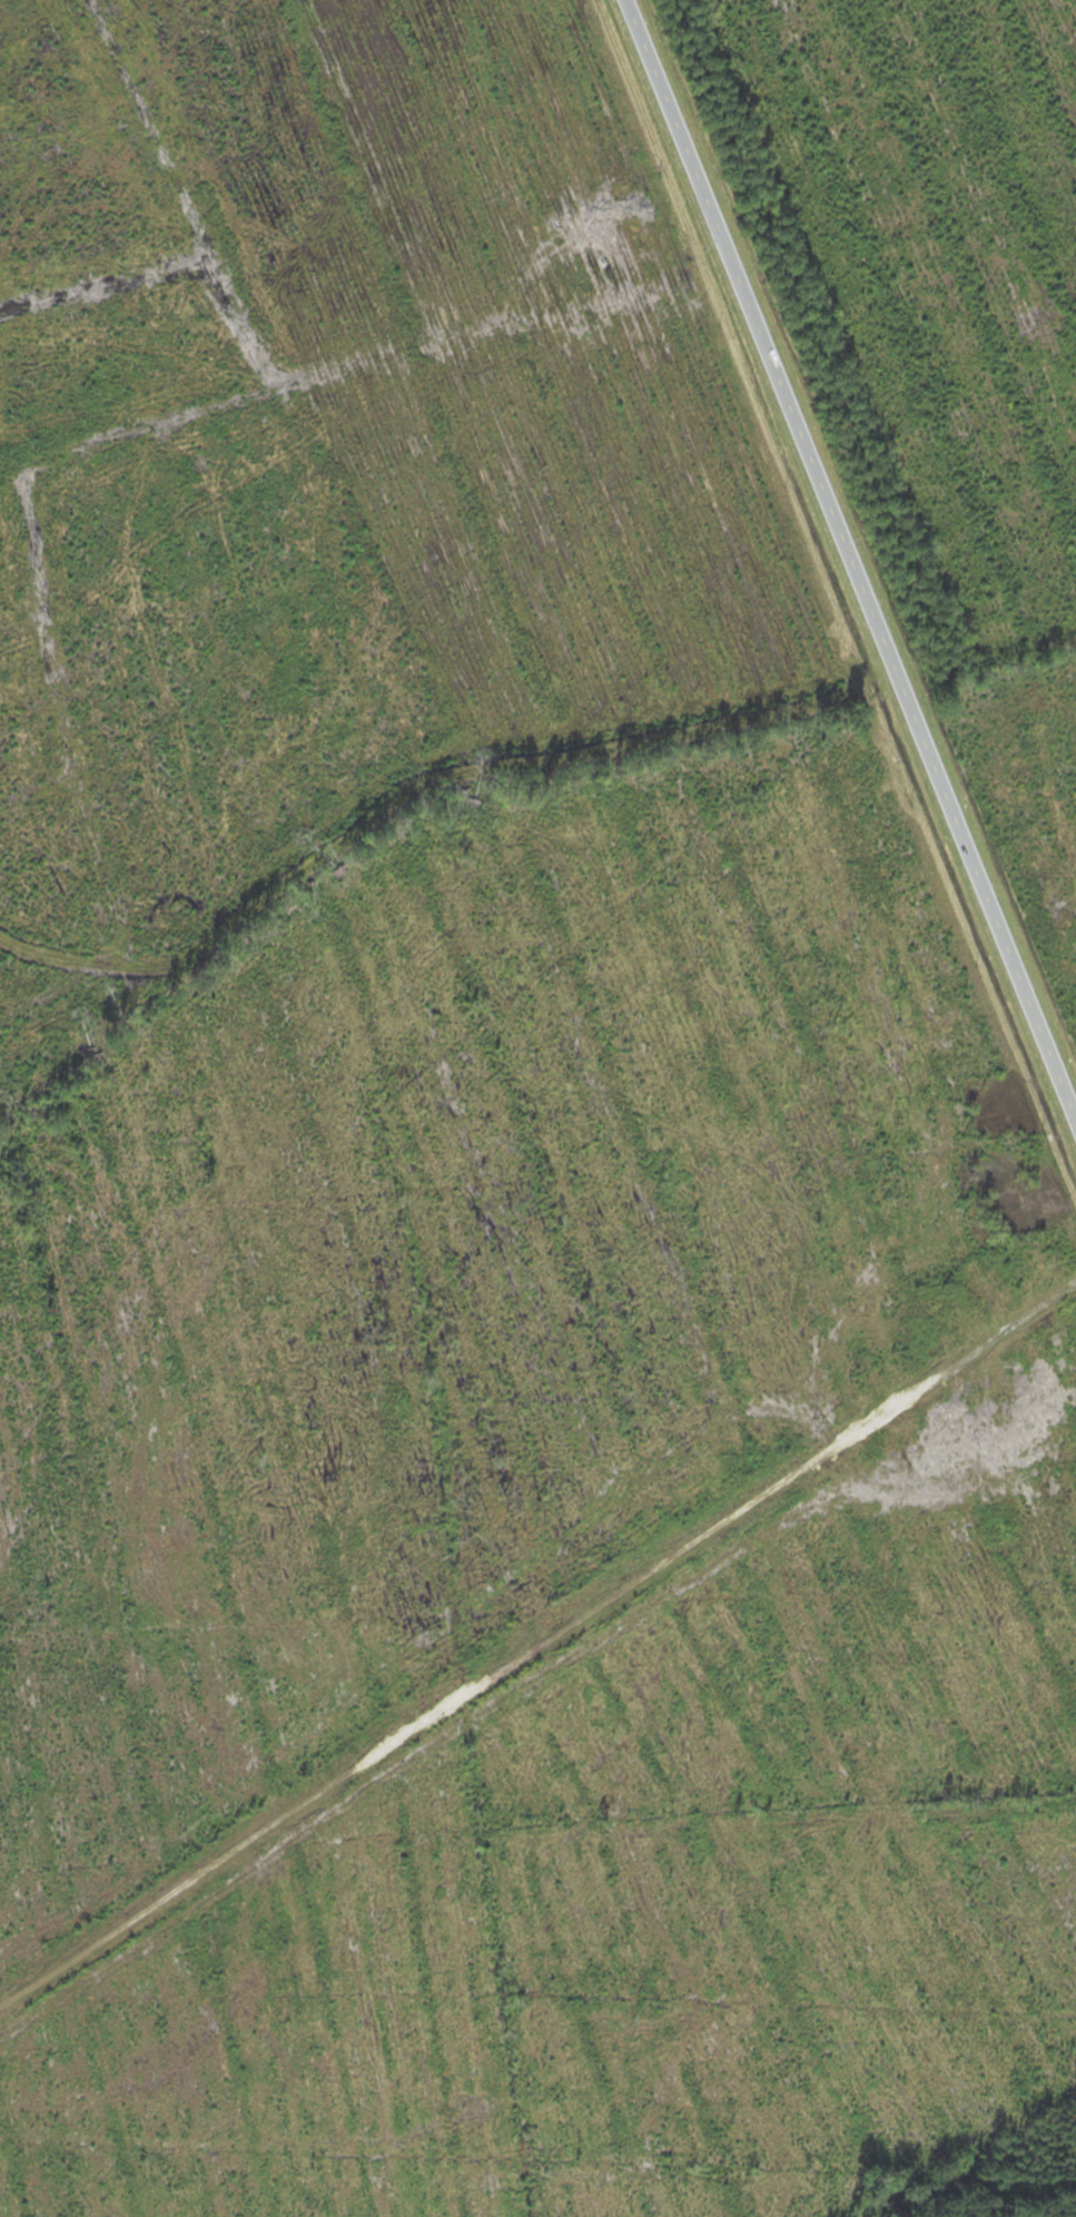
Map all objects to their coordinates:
road: (855, 542)

